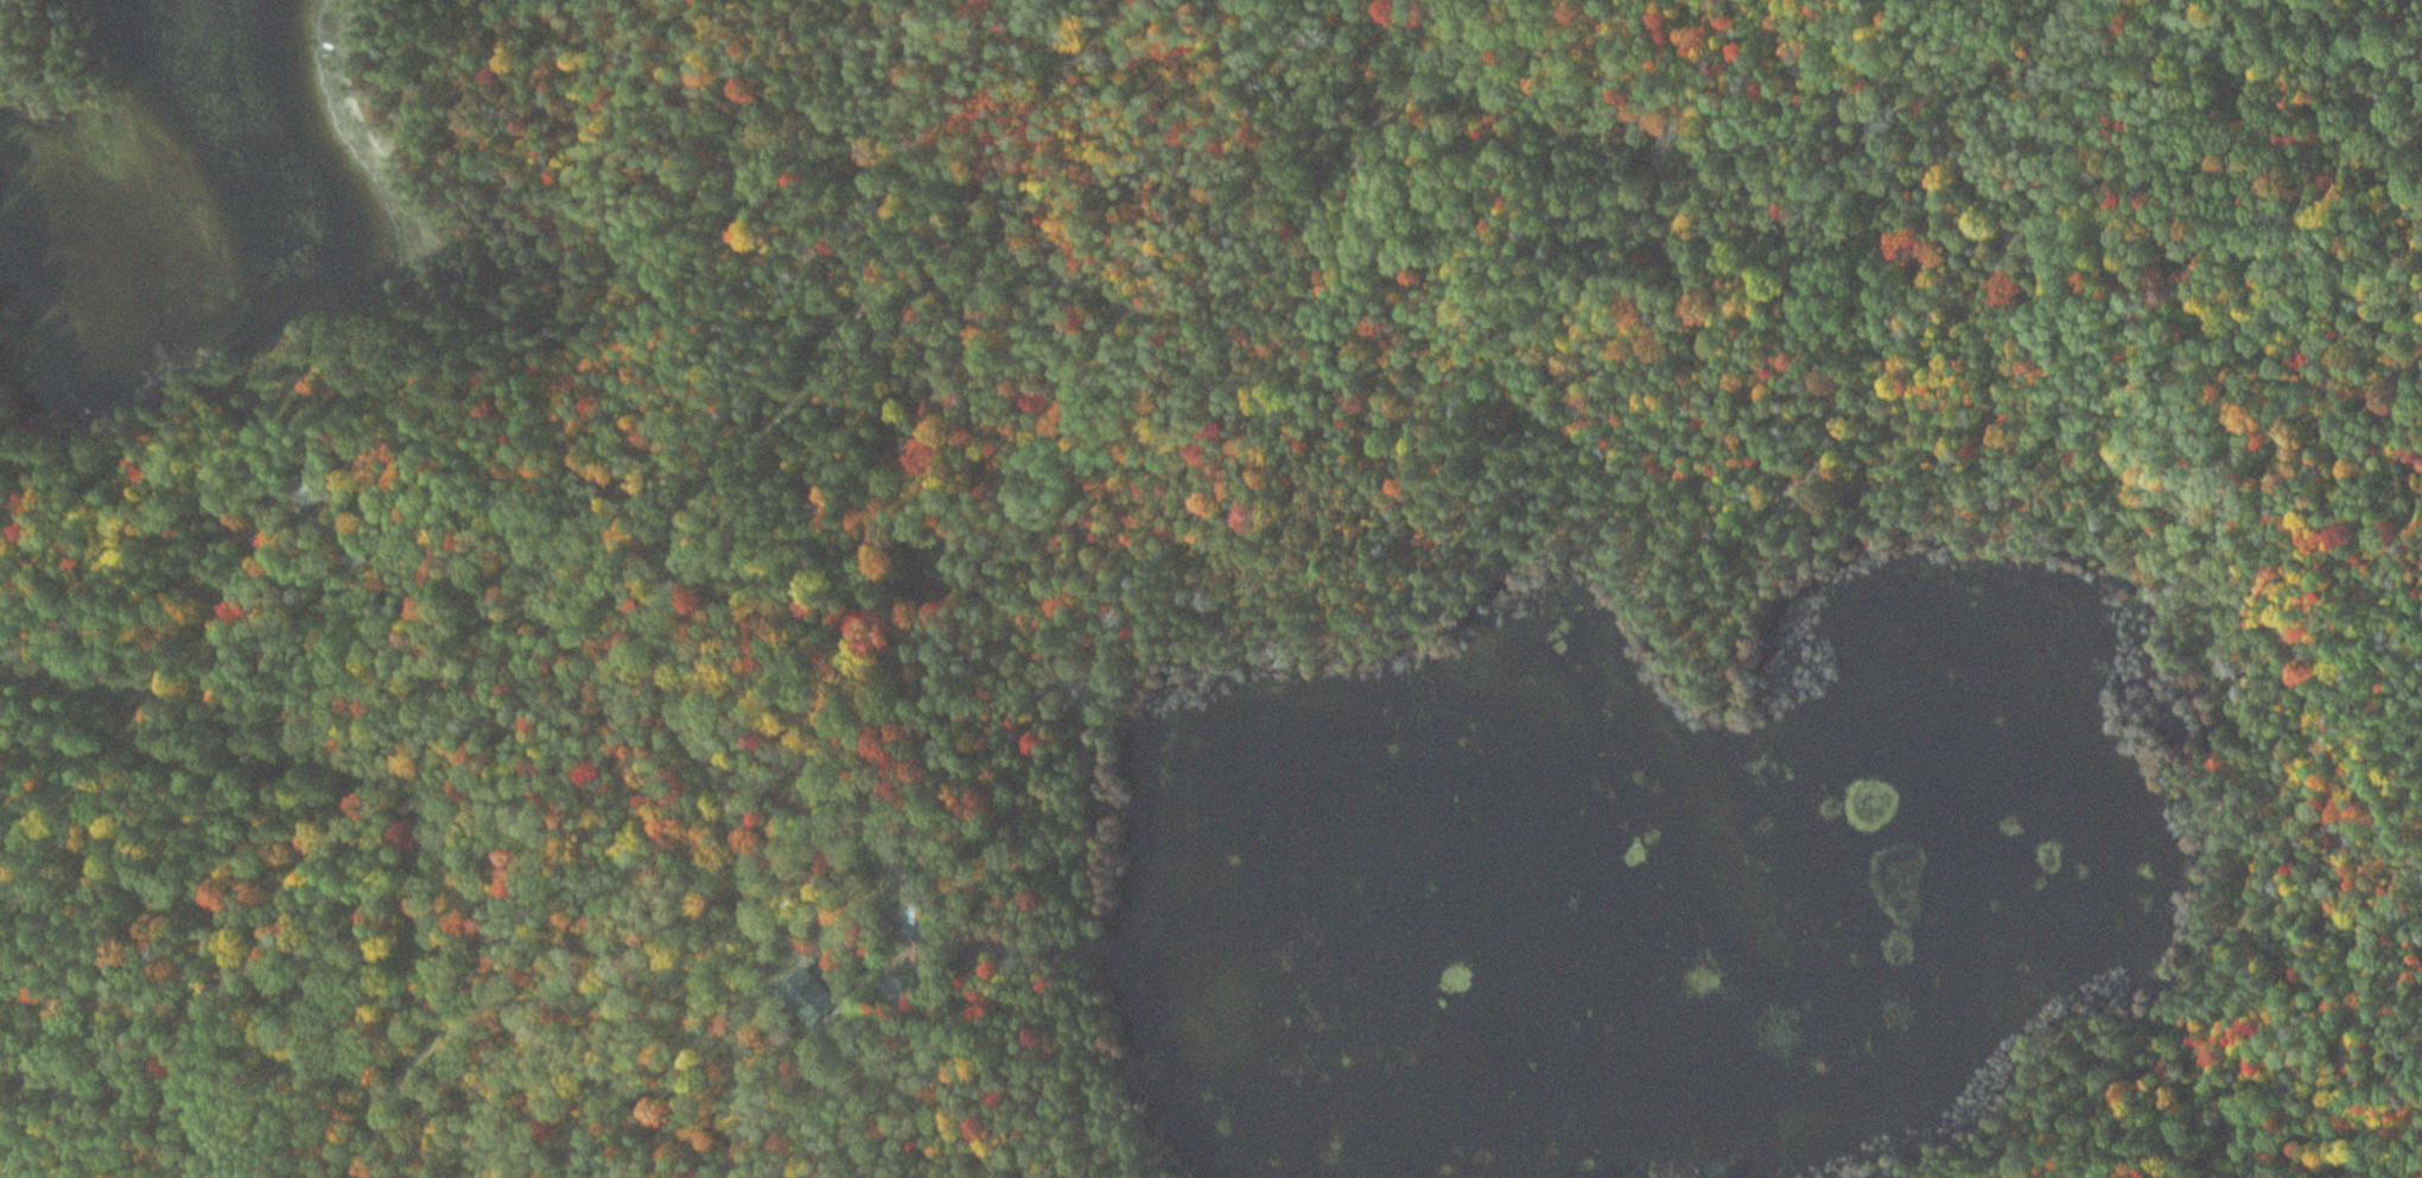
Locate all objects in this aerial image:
building: (314, 488)
road: (660, 1004)

